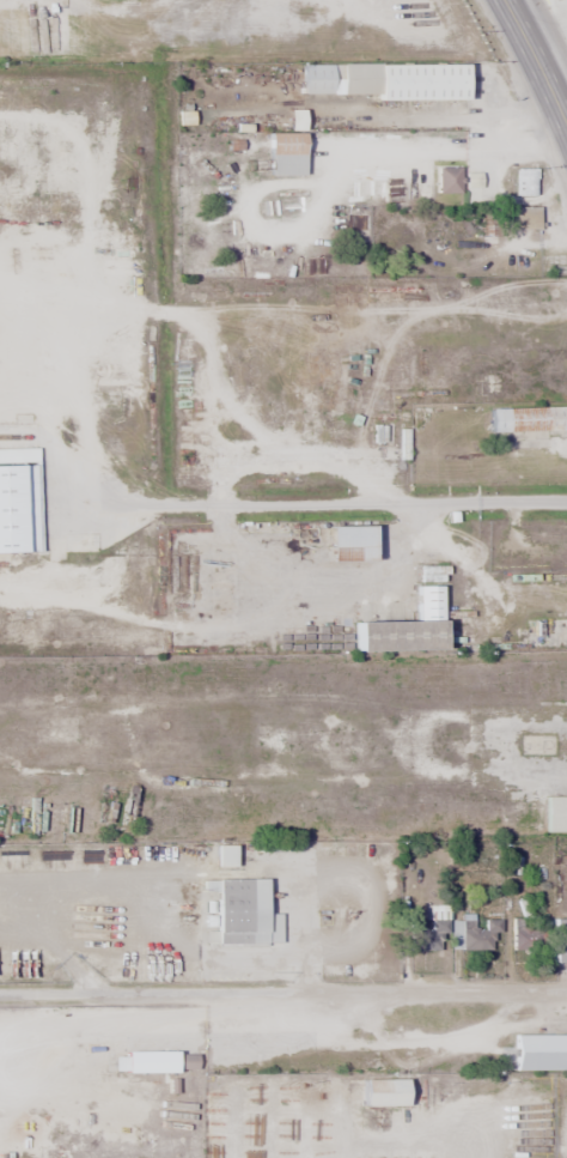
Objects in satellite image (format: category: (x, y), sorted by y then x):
building: (441, 8)
road: (537, 62)
building: (386, 80)
building: (283, 153)
building: (525, 181)
building: (517, 218)
building: (528, 418)
building: (18, 501)
building: (347, 544)
building: (403, 627)
building: (555, 814)
building: (224, 856)
building: (231, 911)
building: (426, 935)
building: (475, 935)
building: (525, 936)
building: (560, 940)
road: (283, 993)
building: (539, 1050)
building: (152, 1060)
building: (383, 1091)

